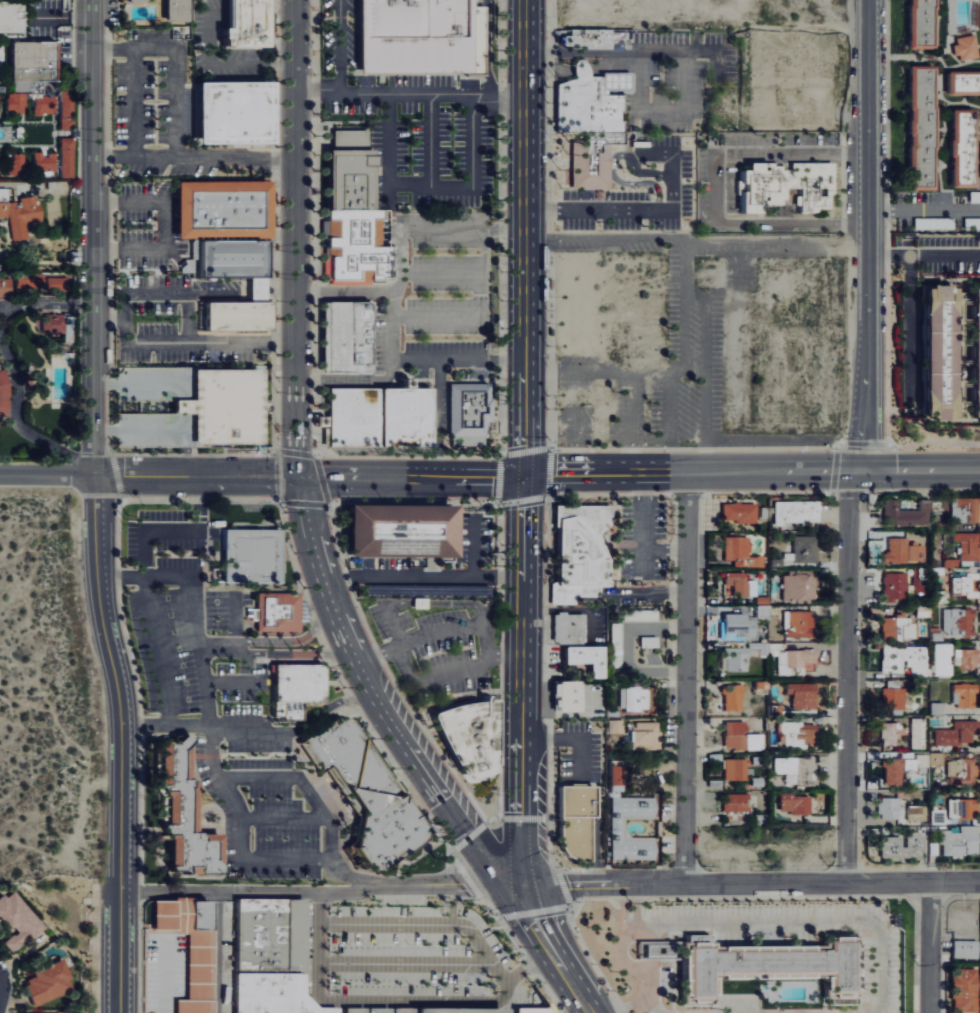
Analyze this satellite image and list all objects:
building: (170, 9)
building: (12, 16)
building: (241, 24)
building: (918, 24)
building: (418, 35)
building: (586, 38)
road: (339, 45)
road: (490, 46)
building: (962, 47)
road: (691, 55)
building: (36, 63)
road: (614, 66)
road: (578, 70)
road: (548, 71)
building: (961, 83)
road: (410, 91)
road: (175, 100)
building: (589, 100)
road: (132, 101)
building: (18, 102)
building: (0, 105)
building: (231, 113)
building: (68, 115)
building: (918, 127)
road: (429, 137)
building: (959, 148)
road: (234, 156)
building: (68, 157)
building: (591, 160)
building: (46, 161)
building: (18, 163)
building: (0, 170)
building: (346, 171)
road: (430, 184)
building: (784, 187)
road: (63, 188)
road: (715, 188)
road: (628, 208)
building: (221, 209)
road: (924, 210)
building: (21, 213)
road: (164, 224)
road: (504, 225)
road: (95, 237)
road: (868, 237)
road: (294, 238)
road: (524, 238)
building: (355, 246)
road: (924, 255)
building: (230, 259)
road: (463, 269)
building: (45, 281)
building: (6, 288)
road: (343, 291)
building: (604, 302)
road: (127, 316)
building: (235, 316)
road: (436, 317)
road: (110, 318)
building: (55, 323)
building: (344, 337)
building: (944, 354)
building: (978, 355)
road: (457, 359)
road: (12, 366)
road: (350, 380)
building: (4, 397)
building: (219, 406)
building: (467, 413)
building: (375, 416)
road: (438, 417)
road: (751, 473)
traffic signals: (855, 473)
road: (46, 475)
road: (196, 476)
road: (411, 476)
traffic signals: (523, 476)
traffic signals: (300, 477)
building: (736, 512)
building: (794, 514)
road: (178, 530)
building: (398, 530)
building: (966, 545)
building: (802, 549)
building: (736, 550)
building: (894, 550)
building: (914, 552)
building: (577, 553)
building: (249, 556)
road: (181, 573)
road: (321, 574)
road: (423, 576)
building: (738, 584)
building: (796, 585)
building: (958, 585)
building: (893, 586)
road: (418, 602)
road: (455, 602)
building: (277, 612)
road: (386, 613)
building: (955, 621)
building: (795, 623)
building: (733, 625)
building: (567, 628)
building: (896, 628)
road: (486, 636)
road: (291, 647)
road: (160, 649)
road: (378, 656)
building: (732, 658)
building: (582, 659)
building: (941, 659)
building: (964, 659)
building: (794, 660)
building: (903, 660)
road: (405, 662)
road: (203, 666)
road: (468, 666)
road: (847, 677)
road: (685, 679)
road: (524, 681)
building: (294, 689)
building: (799, 694)
building: (891, 694)
building: (963, 694)
building: (565, 696)
building: (730, 697)
road: (322, 710)
road: (384, 717)
road: (240, 725)
road: (192, 726)
building: (613, 726)
building: (798, 731)
building: (887, 733)
building: (916, 733)
building: (955, 733)
building: (641, 735)
building: (467, 736)
building: (738, 737)
road: (123, 742)
building: (935, 758)
building: (900, 767)
building: (733, 768)
building: (959, 771)
road: (223, 783)
building: (364, 792)
building: (733, 802)
building: (791, 803)
building: (886, 807)
building: (961, 807)
building: (915, 812)
building: (178, 813)
road: (491, 817)
road: (523, 818)
road: (282, 819)
building: (573, 821)
building: (614, 827)
road: (460, 831)
road: (466, 837)
building: (957, 841)
road: (549, 842)
building: (900, 846)
road: (353, 877)
road: (463, 877)
road: (448, 884)
road: (748, 884)
traffic signals: (517, 886)
road: (563, 886)
road: (250, 892)
road: (452, 903)
road: (488, 907)
road: (533, 913)
building: (17, 918)
road: (801, 919)
road: (429, 921)
road: (628, 926)
building: (183, 943)
road: (929, 948)
building: (963, 949)
road: (550, 951)
road: (216, 952)
building: (284, 963)
road: (637, 965)
building: (756, 965)
building: (45, 981)
building: (961, 990)
road: (396, 999)
road: (628, 1003)
road: (648, 1008)
building: (530, 1010)
building: (16, 1012)
building: (38, 1012)

